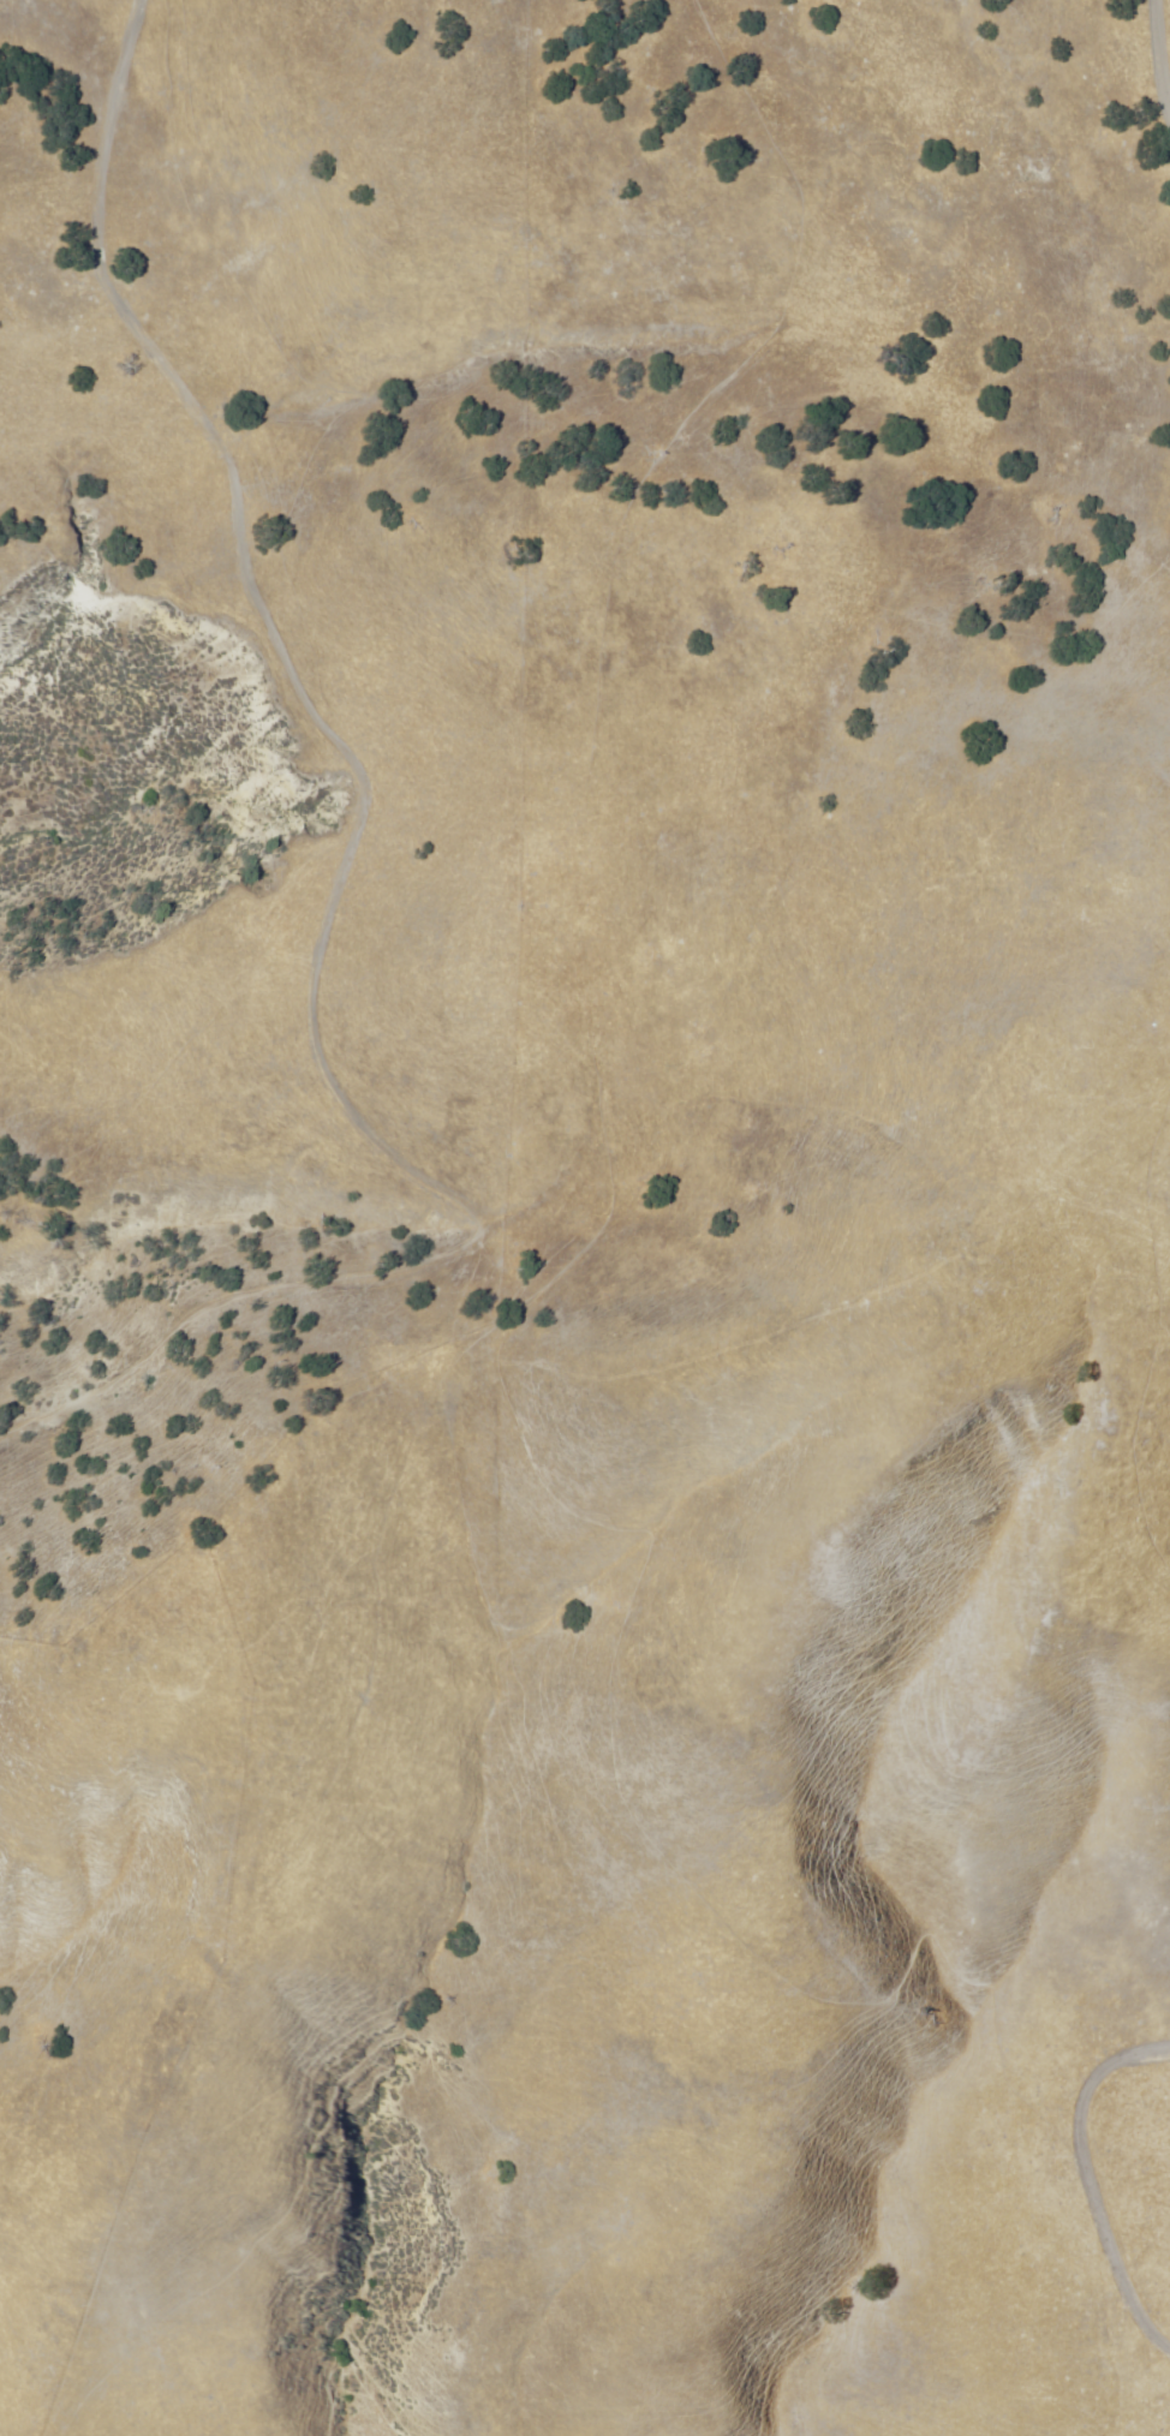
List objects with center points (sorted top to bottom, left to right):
road: (1162, 46)
road: (1094, 2173)

